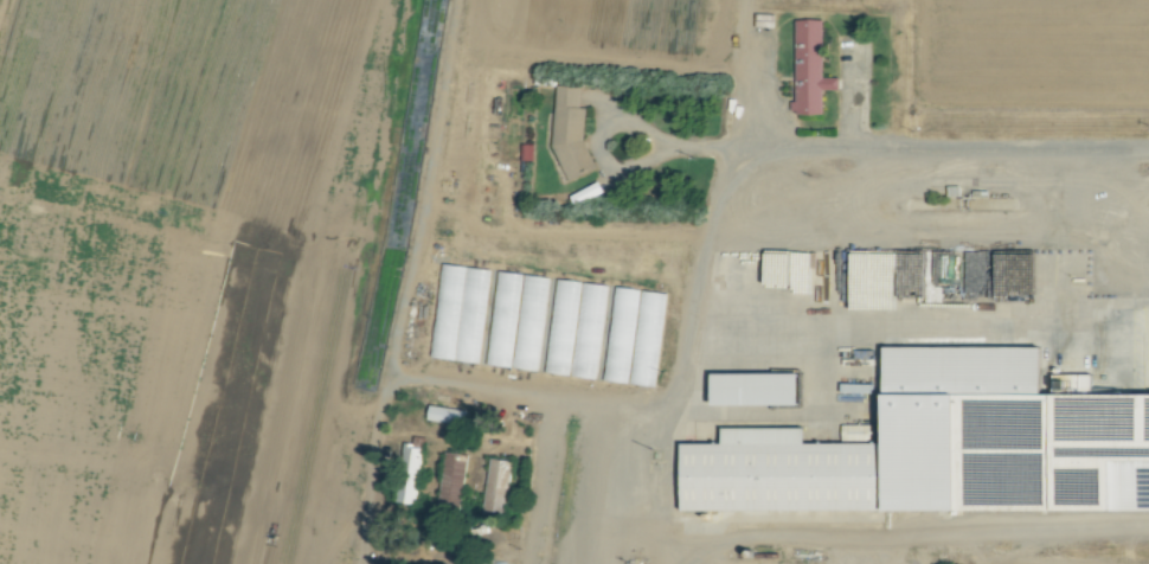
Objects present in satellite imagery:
building: (810, 69)
road: (733, 75)
road: (850, 103)
road: (762, 105)
building: (571, 133)
road: (683, 146)
road: (731, 179)
building: (458, 313)
building: (515, 321)
building: (634, 337)
road: (425, 379)
building: (756, 386)
building: (447, 415)
building: (927, 442)
building: (410, 474)
building: (452, 480)
building: (496, 486)
road: (871, 530)

